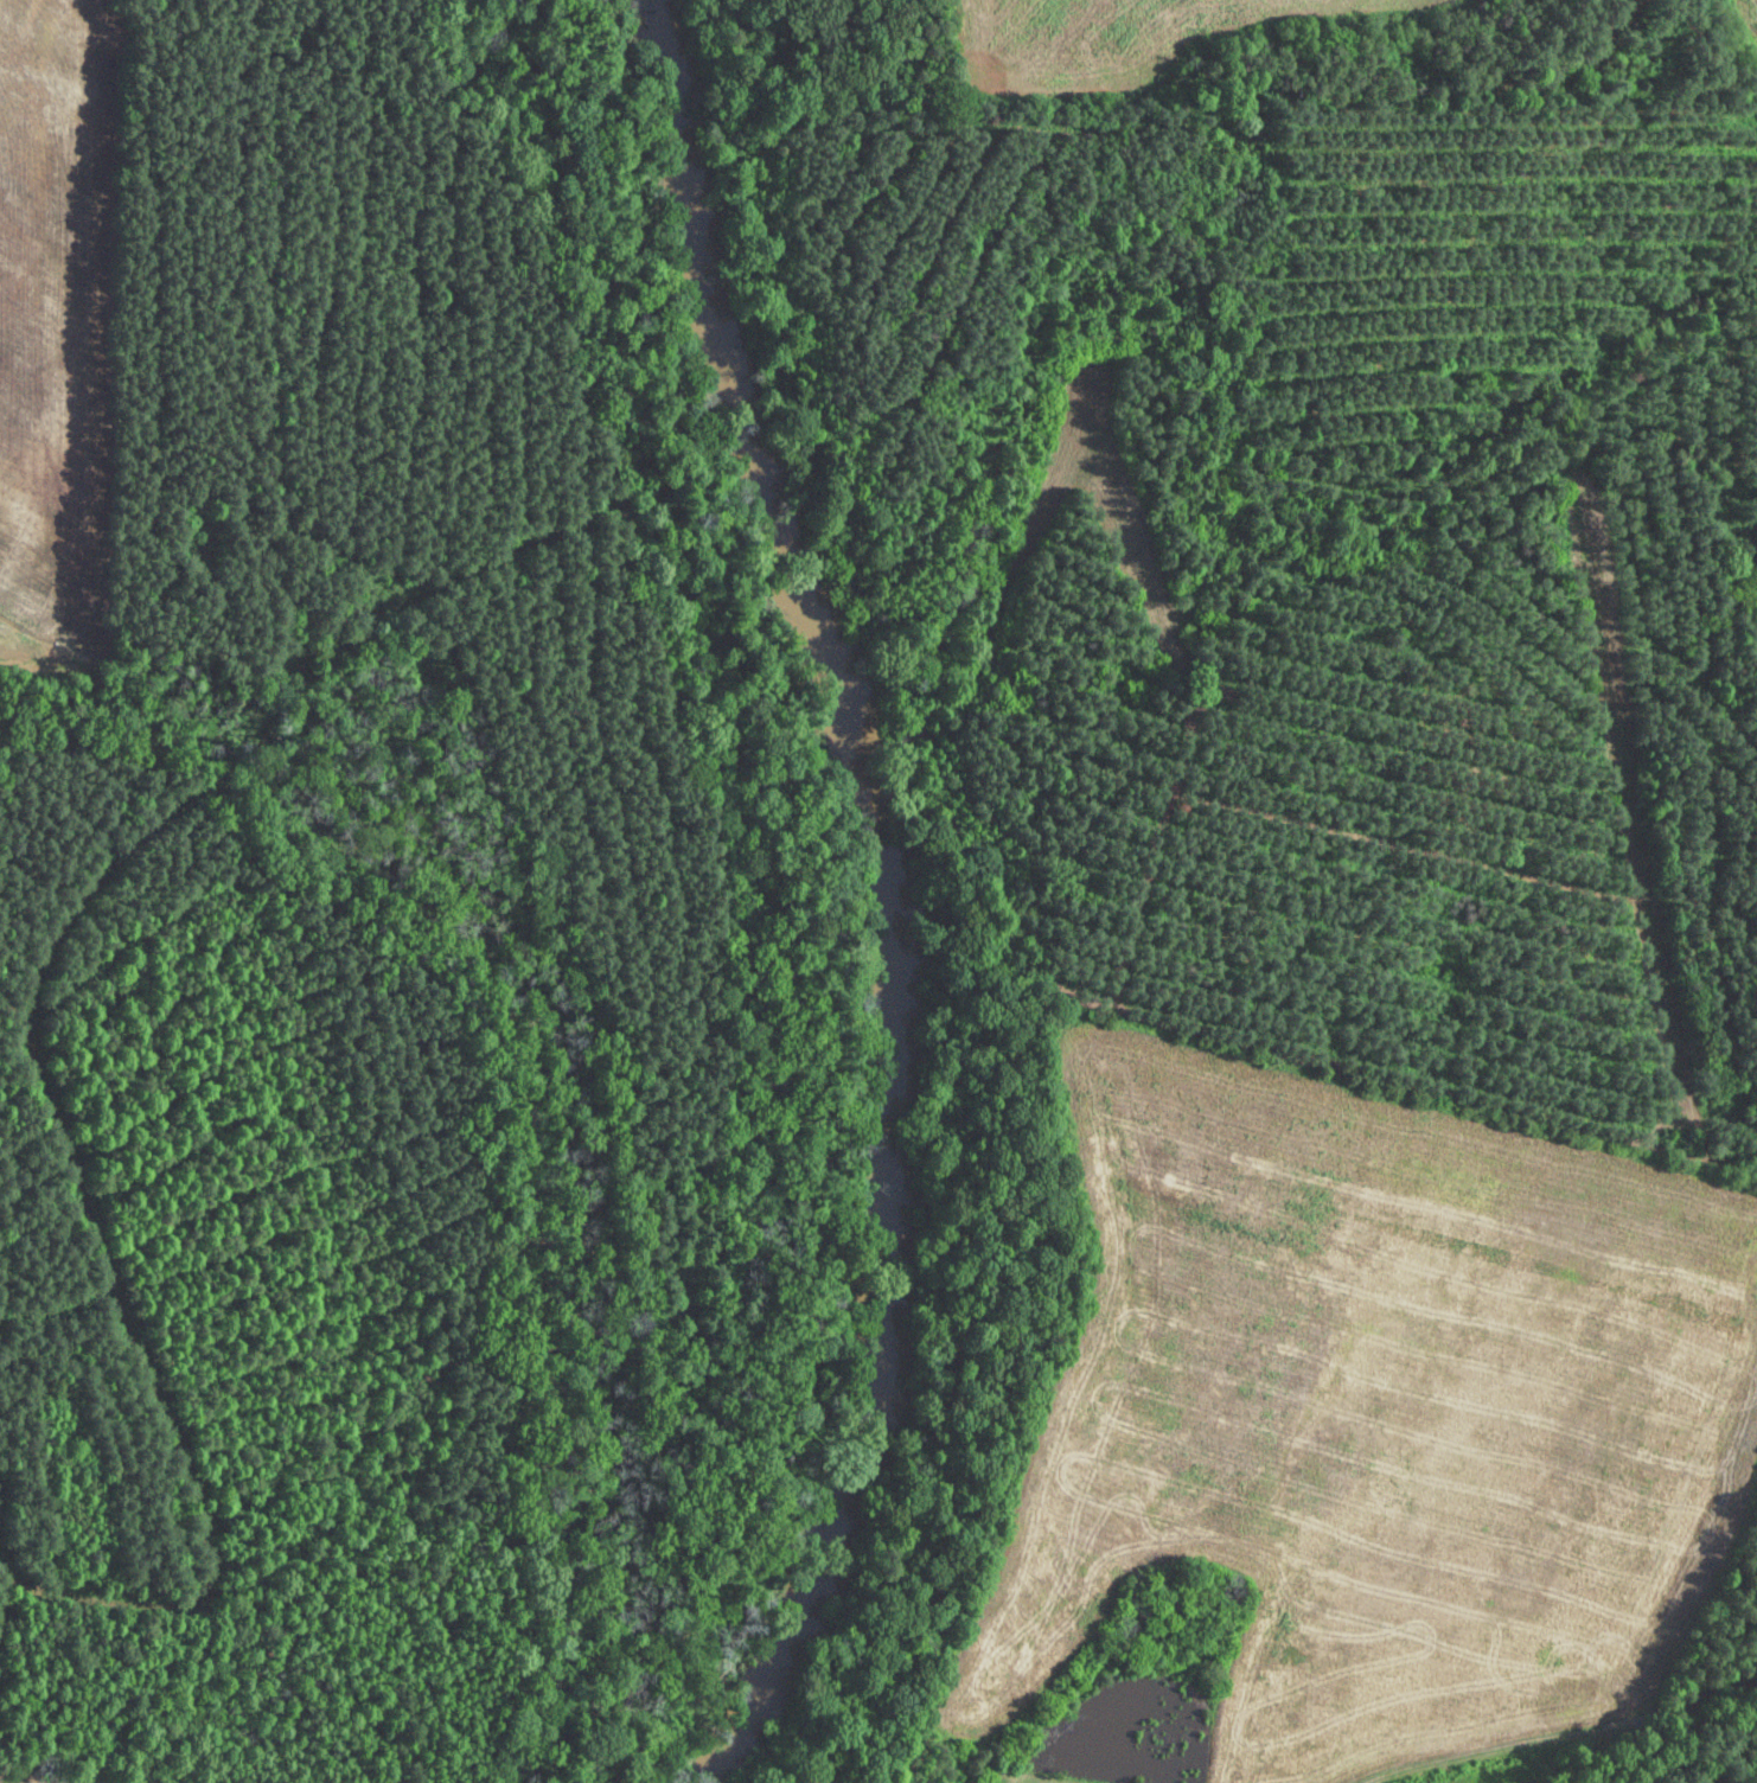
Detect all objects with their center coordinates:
river: (899, 894)

